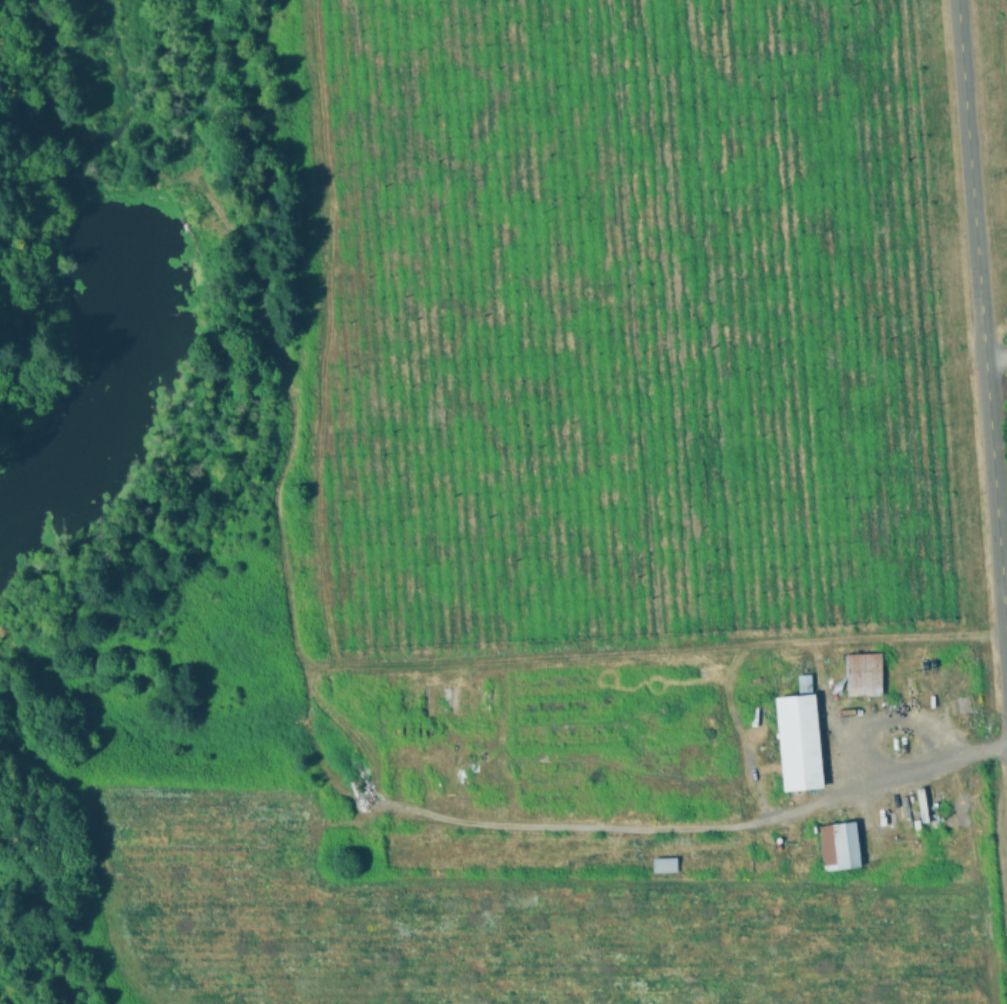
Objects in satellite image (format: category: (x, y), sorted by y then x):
crop: (1000, 84)
crop: (626, 320)
road: (981, 327)
road: (996, 364)
building: (862, 674)
building: (798, 742)
road: (859, 743)
road: (988, 747)
road: (661, 829)
crop: (590, 830)
building: (838, 846)

